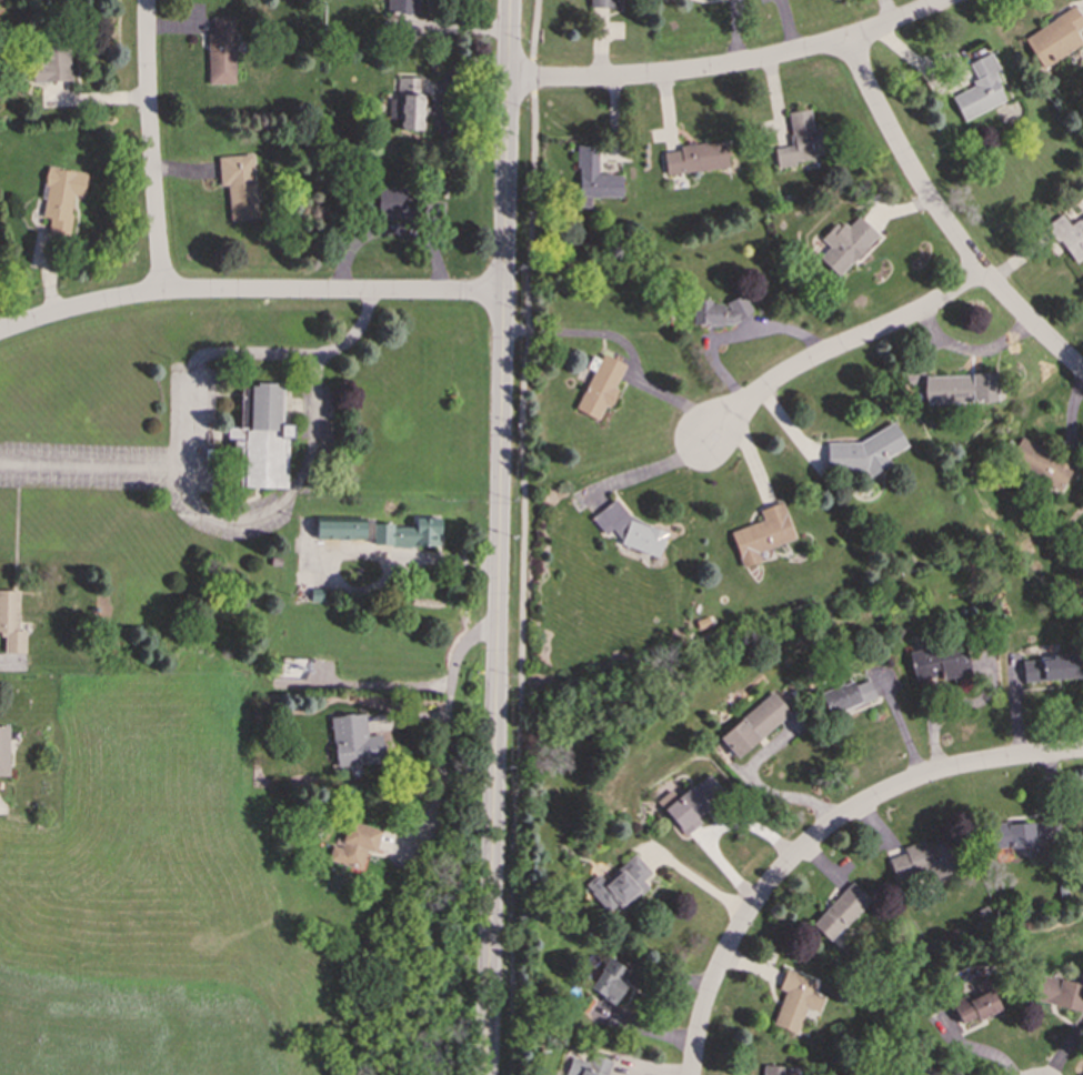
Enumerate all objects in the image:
building: (602, 3)
building: (403, 6)
road: (449, 27)
building: (1054, 37)
building: (220, 51)
building: (51, 61)
road: (732, 64)
building: (979, 89)
building: (407, 103)
building: (800, 140)
road: (149, 145)
building: (695, 158)
building: (593, 178)
building: (238, 184)
building: (60, 198)
building: (393, 202)
road: (942, 221)
road: (390, 229)
building: (1069, 235)
building: (844, 244)
road: (248, 291)
building: (720, 311)
road: (733, 334)
road: (625, 348)
road: (833, 348)
road: (970, 350)
building: (600, 385)
building: (959, 388)
road: (187, 399)
building: (261, 436)
building: (865, 452)
building: (1039, 463)
road: (639, 472)
road: (288, 492)
building: (1082, 522)
building: (340, 530)
building: (632, 530)
building: (762, 534)
road: (522, 536)
road: (498, 537)
road: (407, 554)
building: (10, 622)
building: (939, 661)
building: (1050, 667)
building: (845, 696)
building: (754, 724)
road: (445, 734)
building: (353, 741)
building: (3, 751)
building: (690, 803)
road: (819, 833)
building: (1017, 834)
building: (354, 845)
building: (921, 861)
road: (702, 882)
building: (620, 885)
building: (839, 911)
building: (609, 979)
building: (1059, 993)
building: (794, 1001)
building: (975, 1003)
road: (974, 1047)
building: (588, 1066)
building: (773, 1069)
building: (921, 1073)

